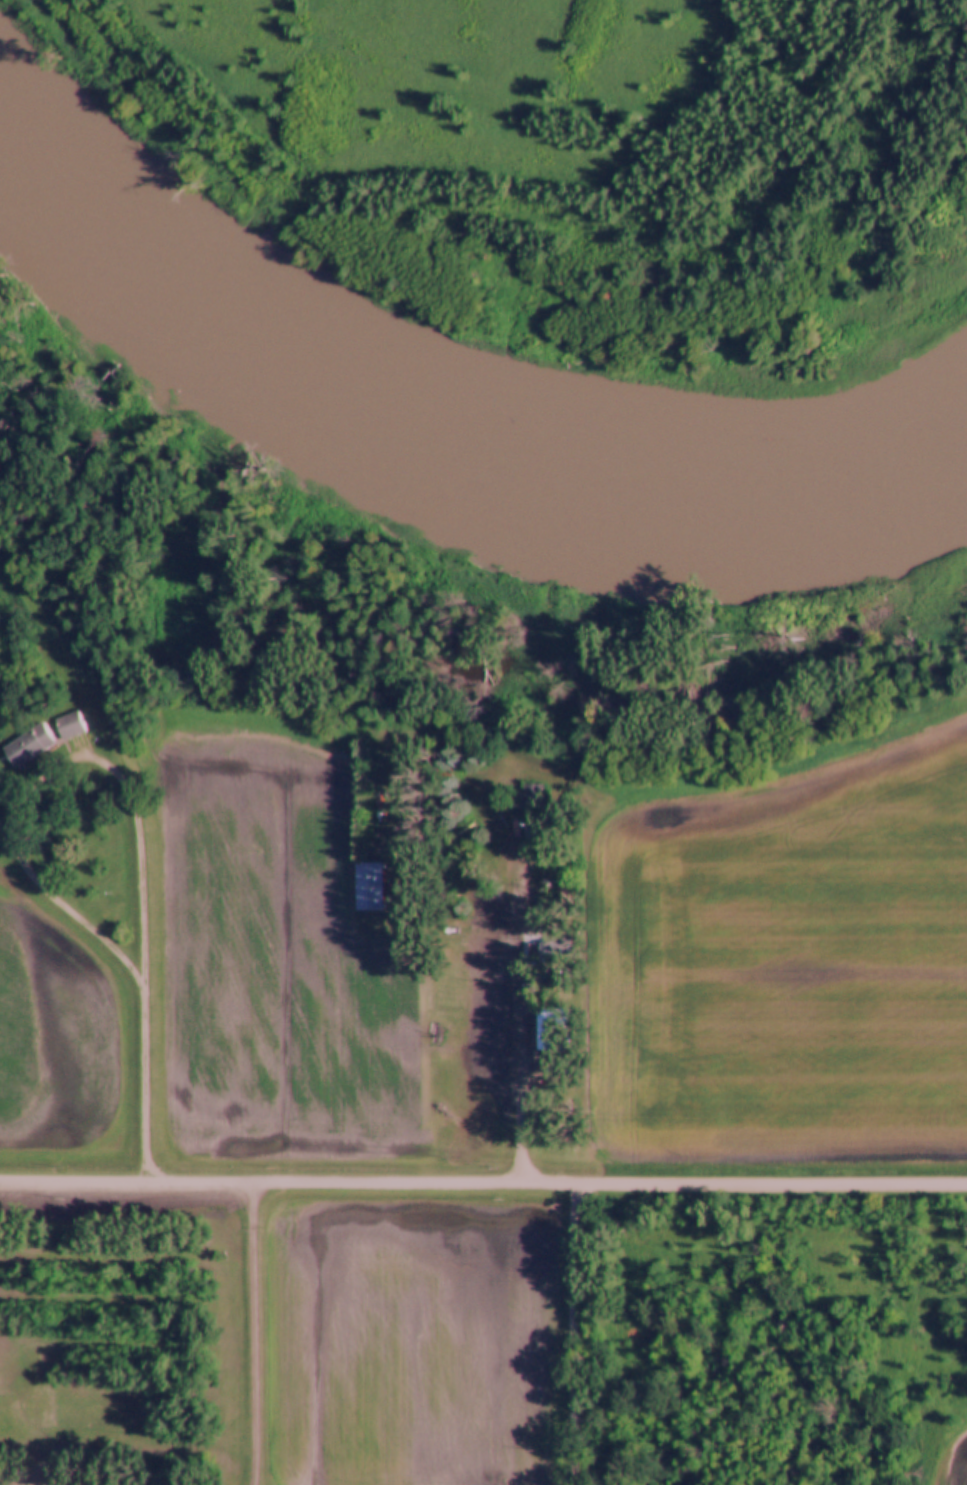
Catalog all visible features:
river: (459, 423)
road: (64, 661)
building: (69, 725)
building: (27, 746)
road: (126, 793)
building: (531, 795)
building: (367, 886)
road: (516, 995)
building: (551, 1030)
road: (483, 1177)
road: (248, 1331)
road: (570, 1331)
building: (8, 1453)

